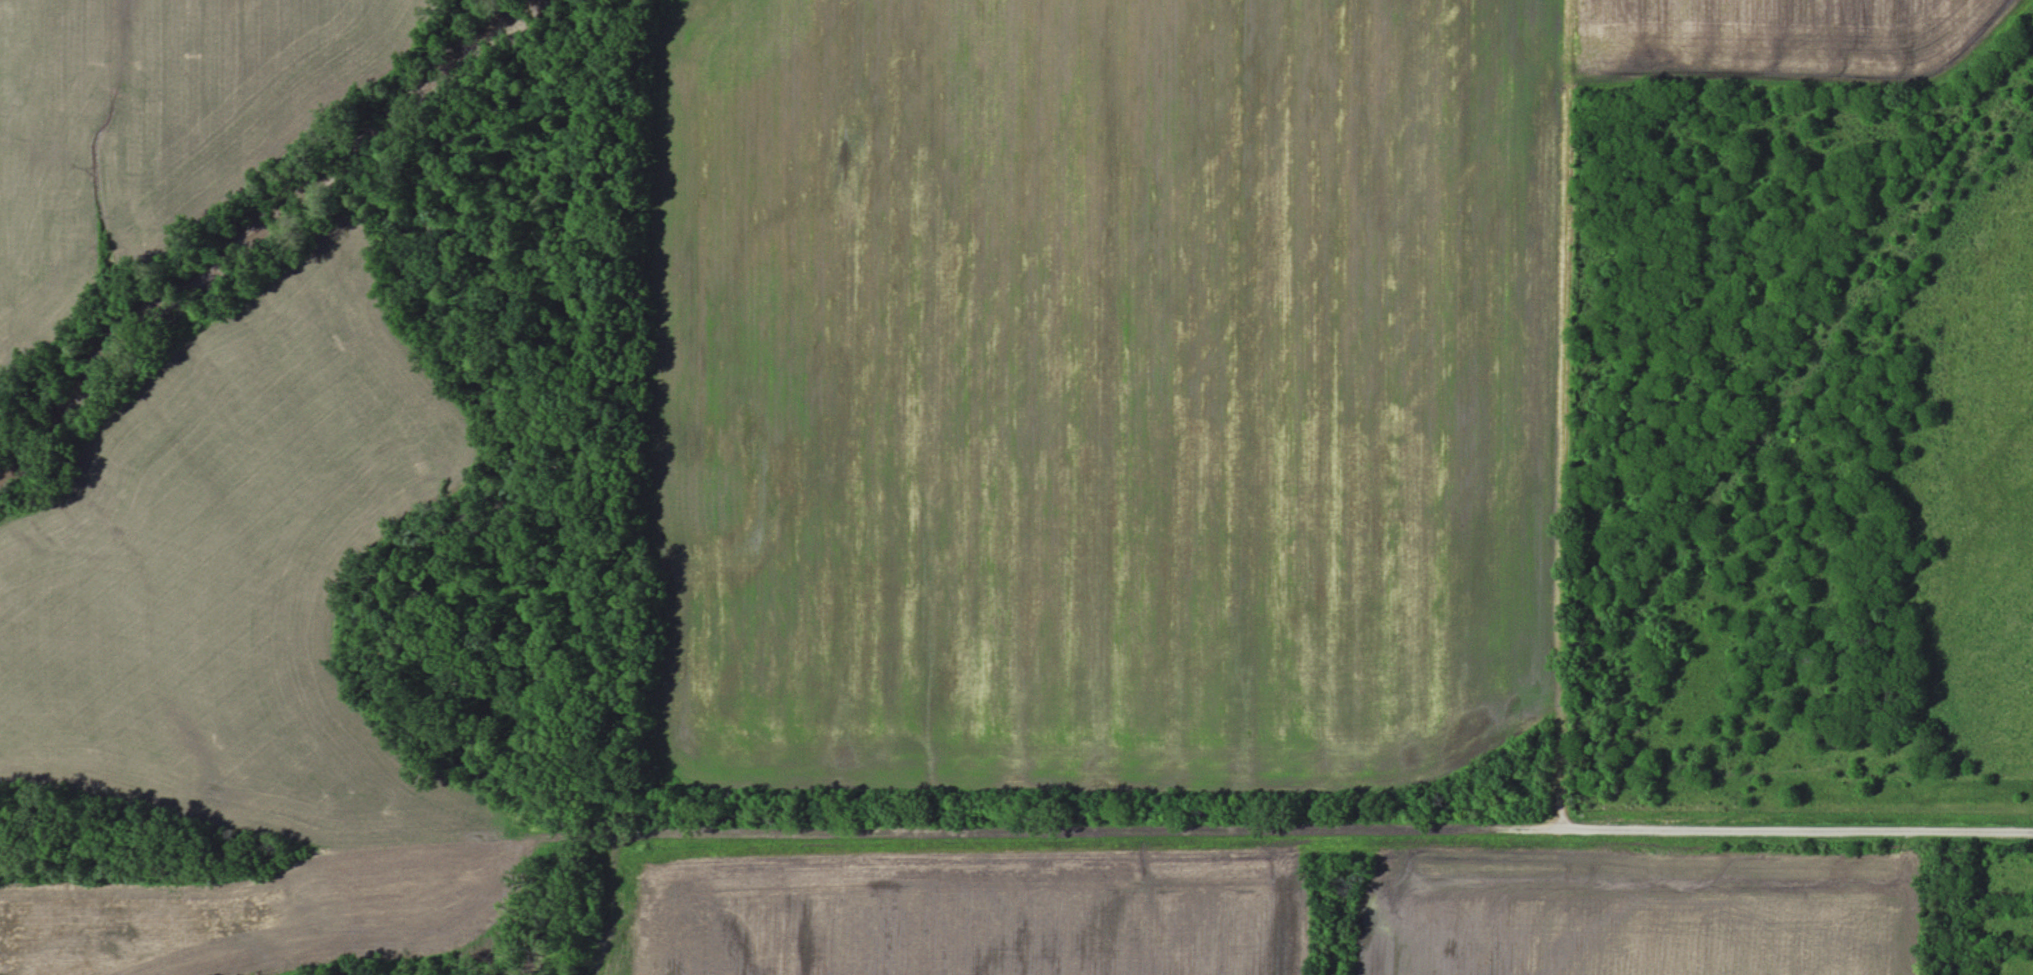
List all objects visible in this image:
river: (254, 214)
road: (1553, 414)
road: (1256, 833)

